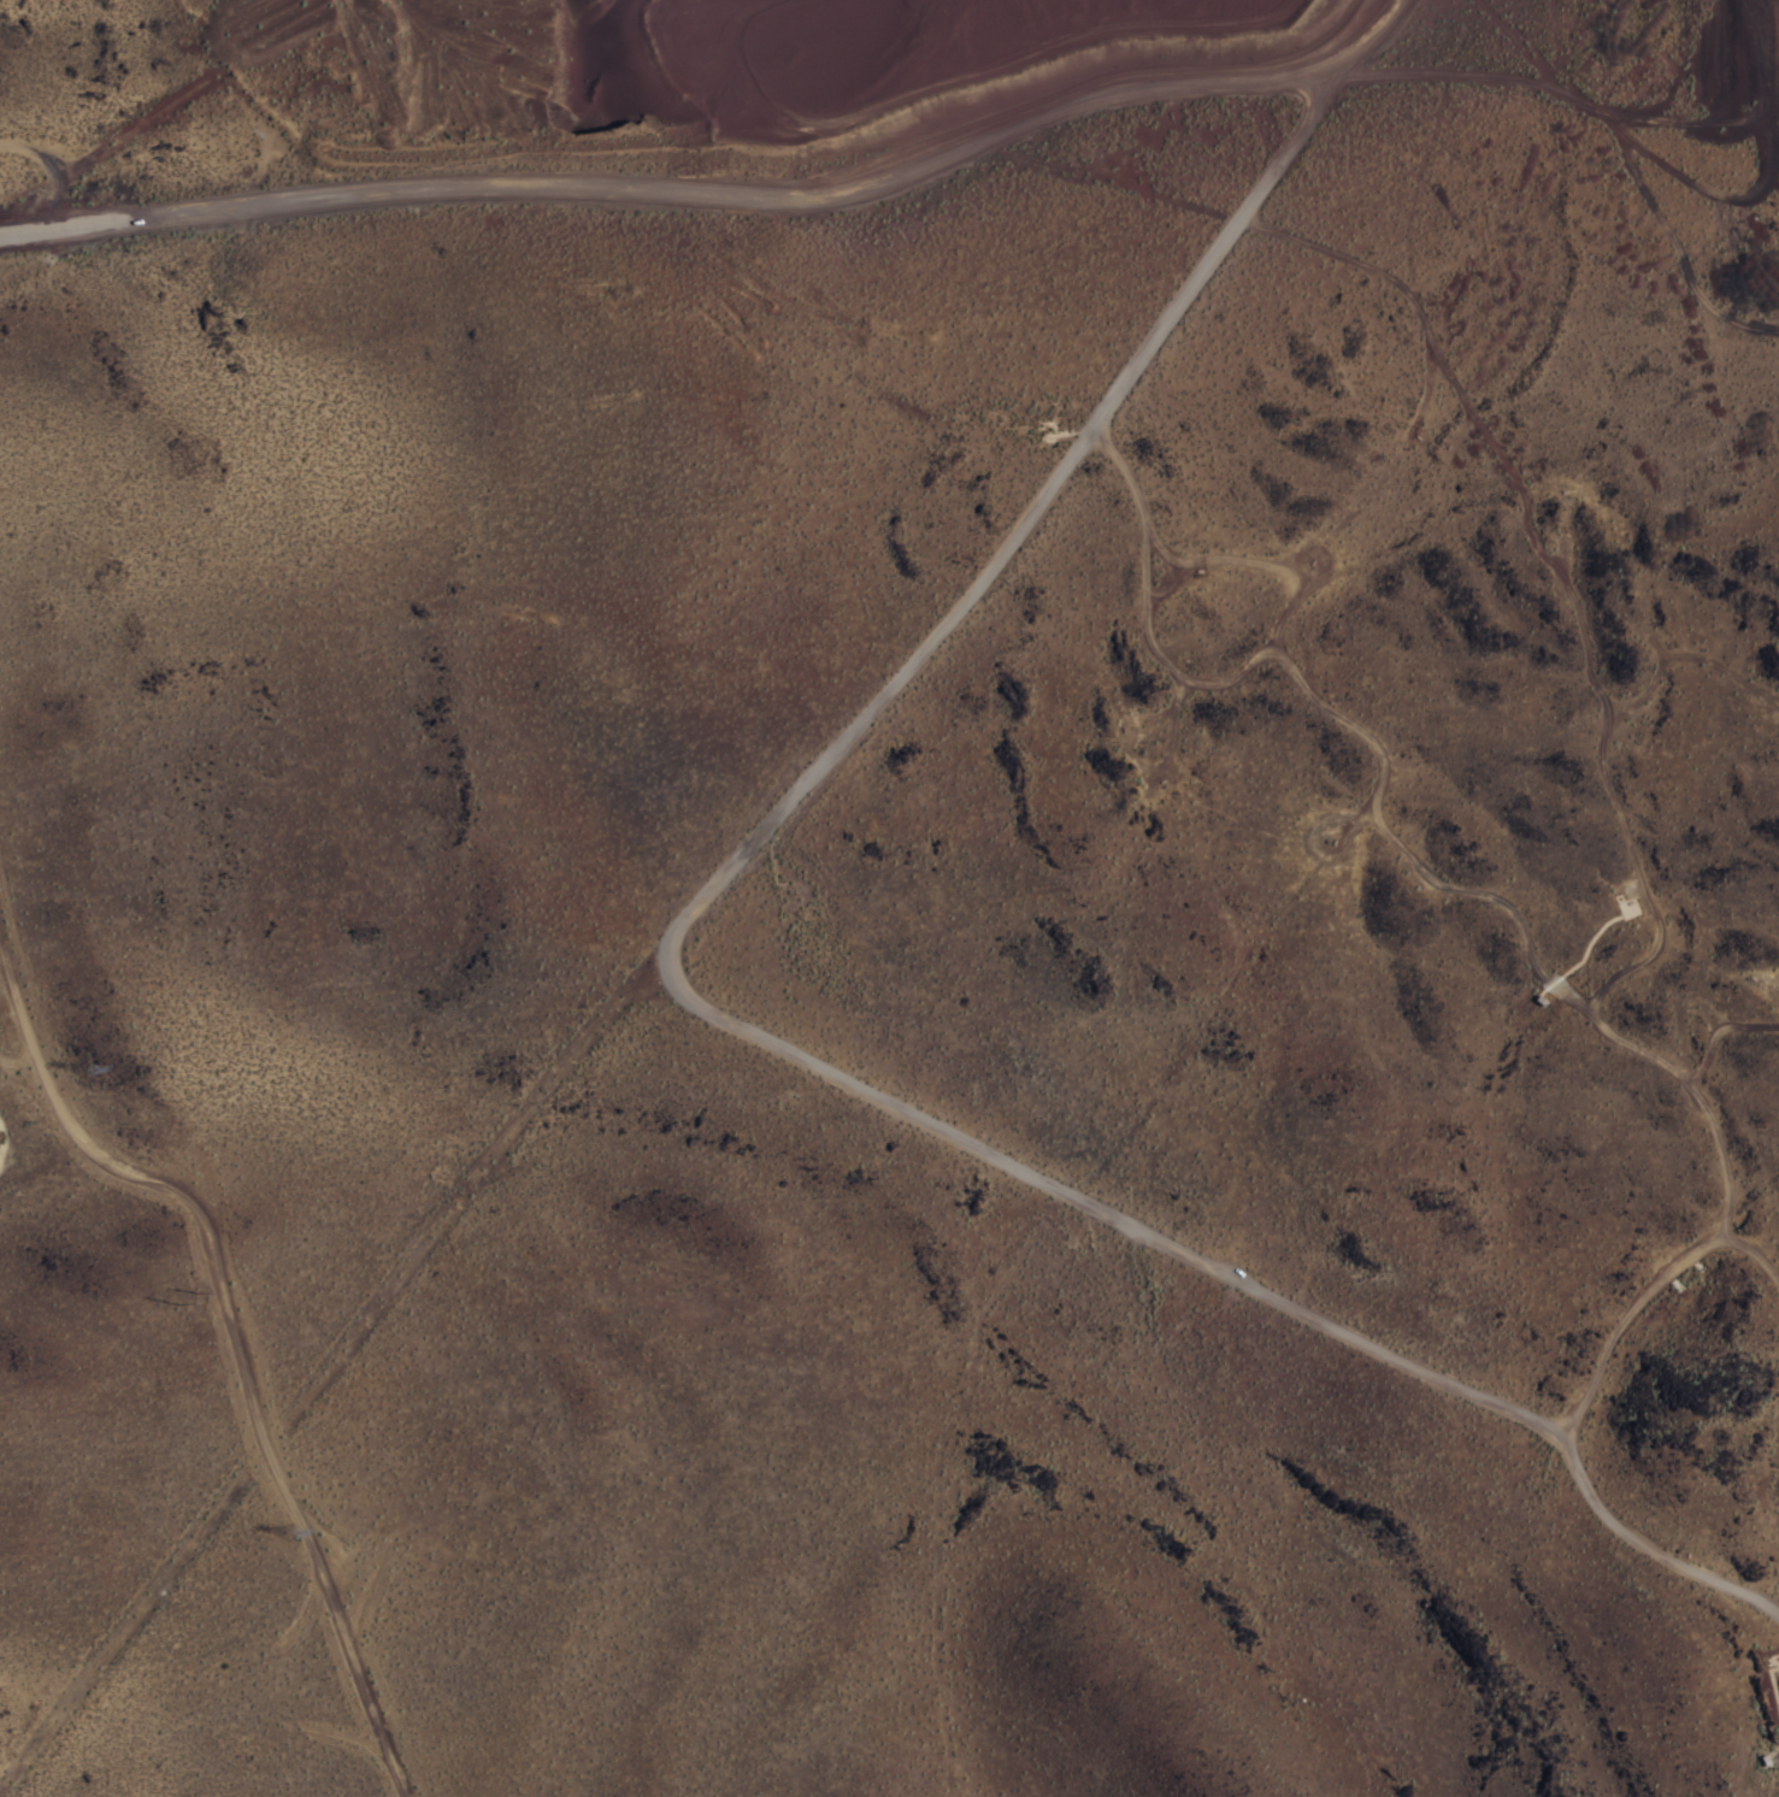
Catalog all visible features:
road: (47, 167)
road: (720, 190)
road: (1485, 891)
building: (1628, 907)
road: (736, 1019)
power tower: (87, 1070)
power tower: (183, 1298)
power tower: (294, 1534)

